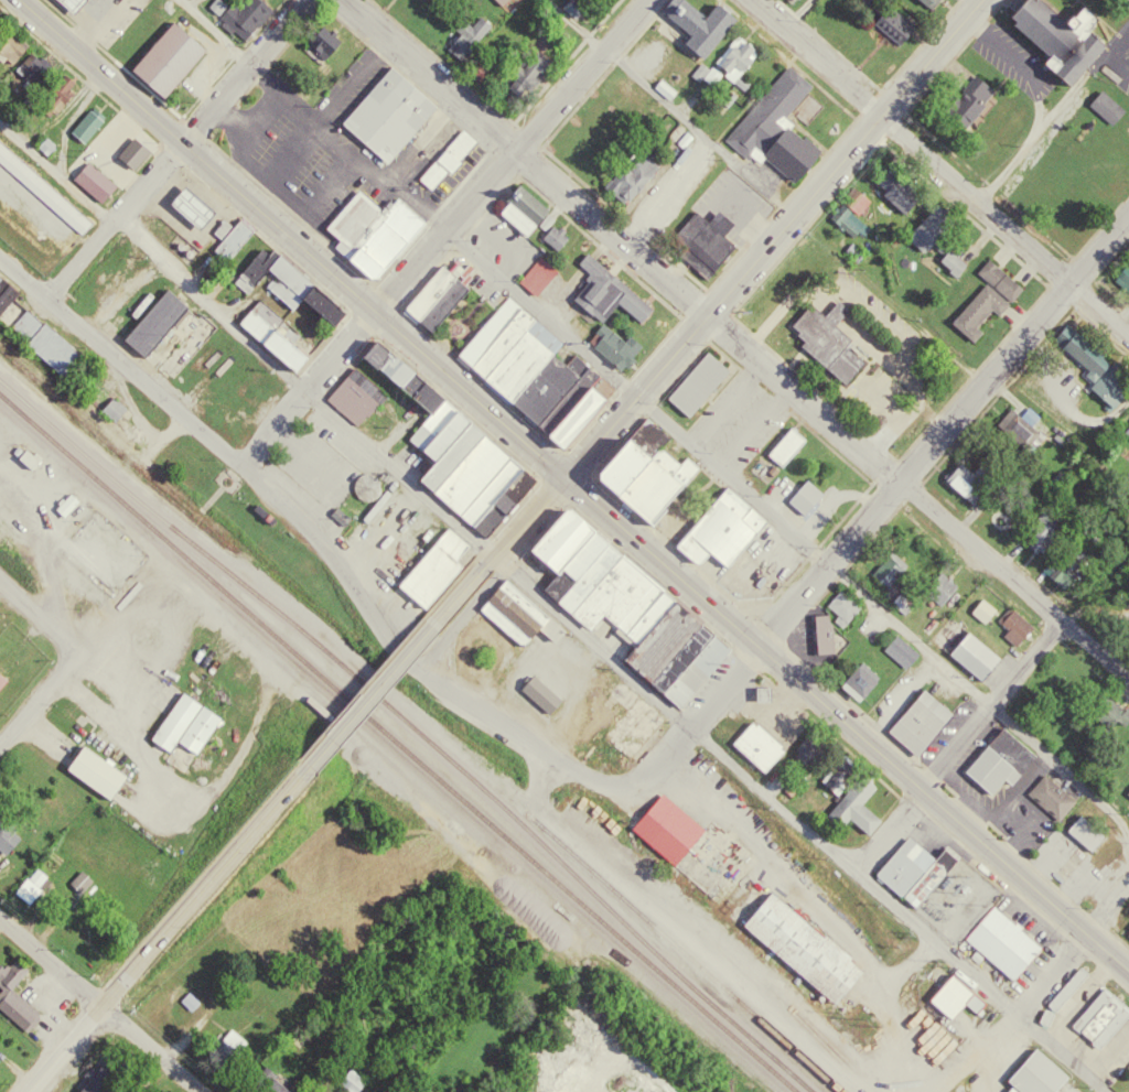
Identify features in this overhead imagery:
building: (791, 0)
building: (502, 1)
building: (436, 2)
building: (921, 2)
building: (934, 3)
building: (76, 6)
building: (569, 6)
road: (797, 14)
building: (241, 17)
building: (696, 22)
road: (573, 24)
building: (894, 25)
building: (470, 32)
building: (1056, 35)
building: (321, 41)
building: (733, 54)
building: (166, 57)
building: (484, 61)
building: (699, 67)
building: (526, 71)
building: (711, 73)
road: (427, 75)
building: (662, 86)
building: (967, 101)
building: (1105, 105)
building: (386, 115)
building: (85, 122)
building: (772, 125)
road: (697, 131)
building: (596, 134)
road: (178, 150)
building: (133, 153)
road: (195, 155)
building: (443, 159)
road: (938, 166)
building: (631, 175)
building: (94, 180)
building: (896, 187)
building: (52, 203)
building: (520, 207)
building: (851, 209)
building: (198, 210)
building: (928, 225)
building: (848, 227)
road: (441, 233)
building: (551, 235)
building: (377, 236)
building: (702, 238)
building: (232, 240)
building: (854, 249)
building: (949, 259)
building: (536, 273)
building: (996, 277)
building: (1128, 278)
building: (1, 281)
building: (299, 290)
building: (606, 291)
building: (433, 294)
road: (723, 295)
building: (974, 307)
park: (460, 316)
building: (157, 325)
building: (826, 338)
building: (280, 343)
building: (614, 344)
building: (47, 345)
road: (120, 361)
building: (528, 367)
building: (1096, 372)
building: (695, 381)
building: (353, 391)
road: (656, 411)
road: (819, 418)
building: (1022, 434)
building: (783, 444)
building: (455, 451)
building: (642, 468)
road: (908, 472)
building: (966, 482)
building: (803, 495)
building: (69, 507)
building: (719, 527)
building: (430, 564)
building: (1062, 572)
building: (889, 575)
building: (616, 595)
building: (902, 607)
building: (845, 608)
building: (510, 609)
road: (550, 609)
road: (36, 612)
building: (983, 614)
building: (1017, 640)
road: (751, 641)
building: (901, 655)
building: (978, 660)
building: (3, 683)
road: (437, 685)
building: (867, 686)
building: (537, 691)
road: (37, 700)
road: (992, 706)
building: (1128, 714)
building: (182, 722)
building: (925, 725)
railway: (422, 738)
railway: (396, 743)
building: (755, 743)
building: (810, 754)
building: (1003, 765)
building: (93, 769)
road: (297, 779)
building: (1051, 800)
building: (852, 801)
road: (888, 832)
building: (670, 833)
building: (6, 834)
building: (1088, 836)
building: (913, 867)
building: (79, 880)
building: (28, 884)
road: (1107, 907)
building: (999, 938)
building: (798, 943)
railway: (681, 952)
road: (1051, 975)
building: (951, 991)
building: (14, 994)
building: (1064, 998)
road: (101, 1004)
building: (1098, 1015)
road: (77, 1030)
building: (1034, 1071)

